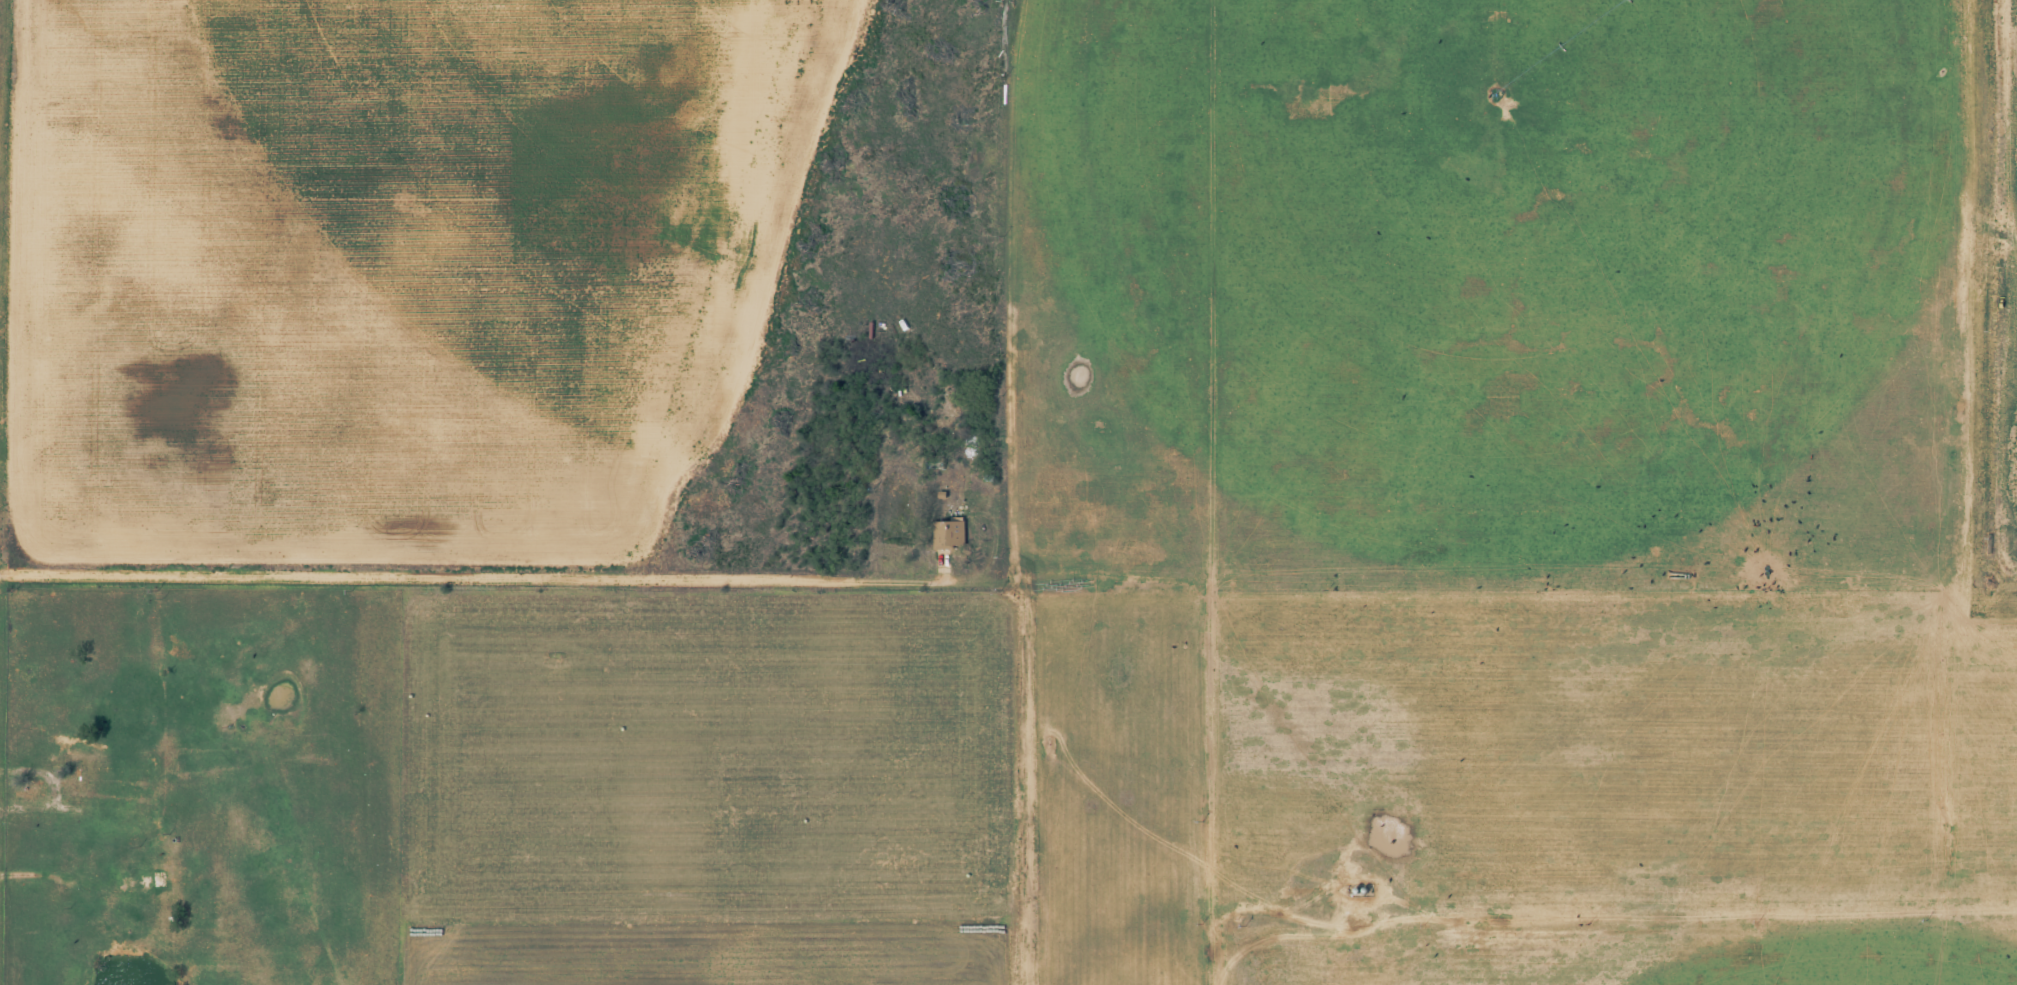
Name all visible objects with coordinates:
road: (367, 137)
road: (1184, 410)
building: (951, 534)
building: (100, 797)
building: (140, 879)

